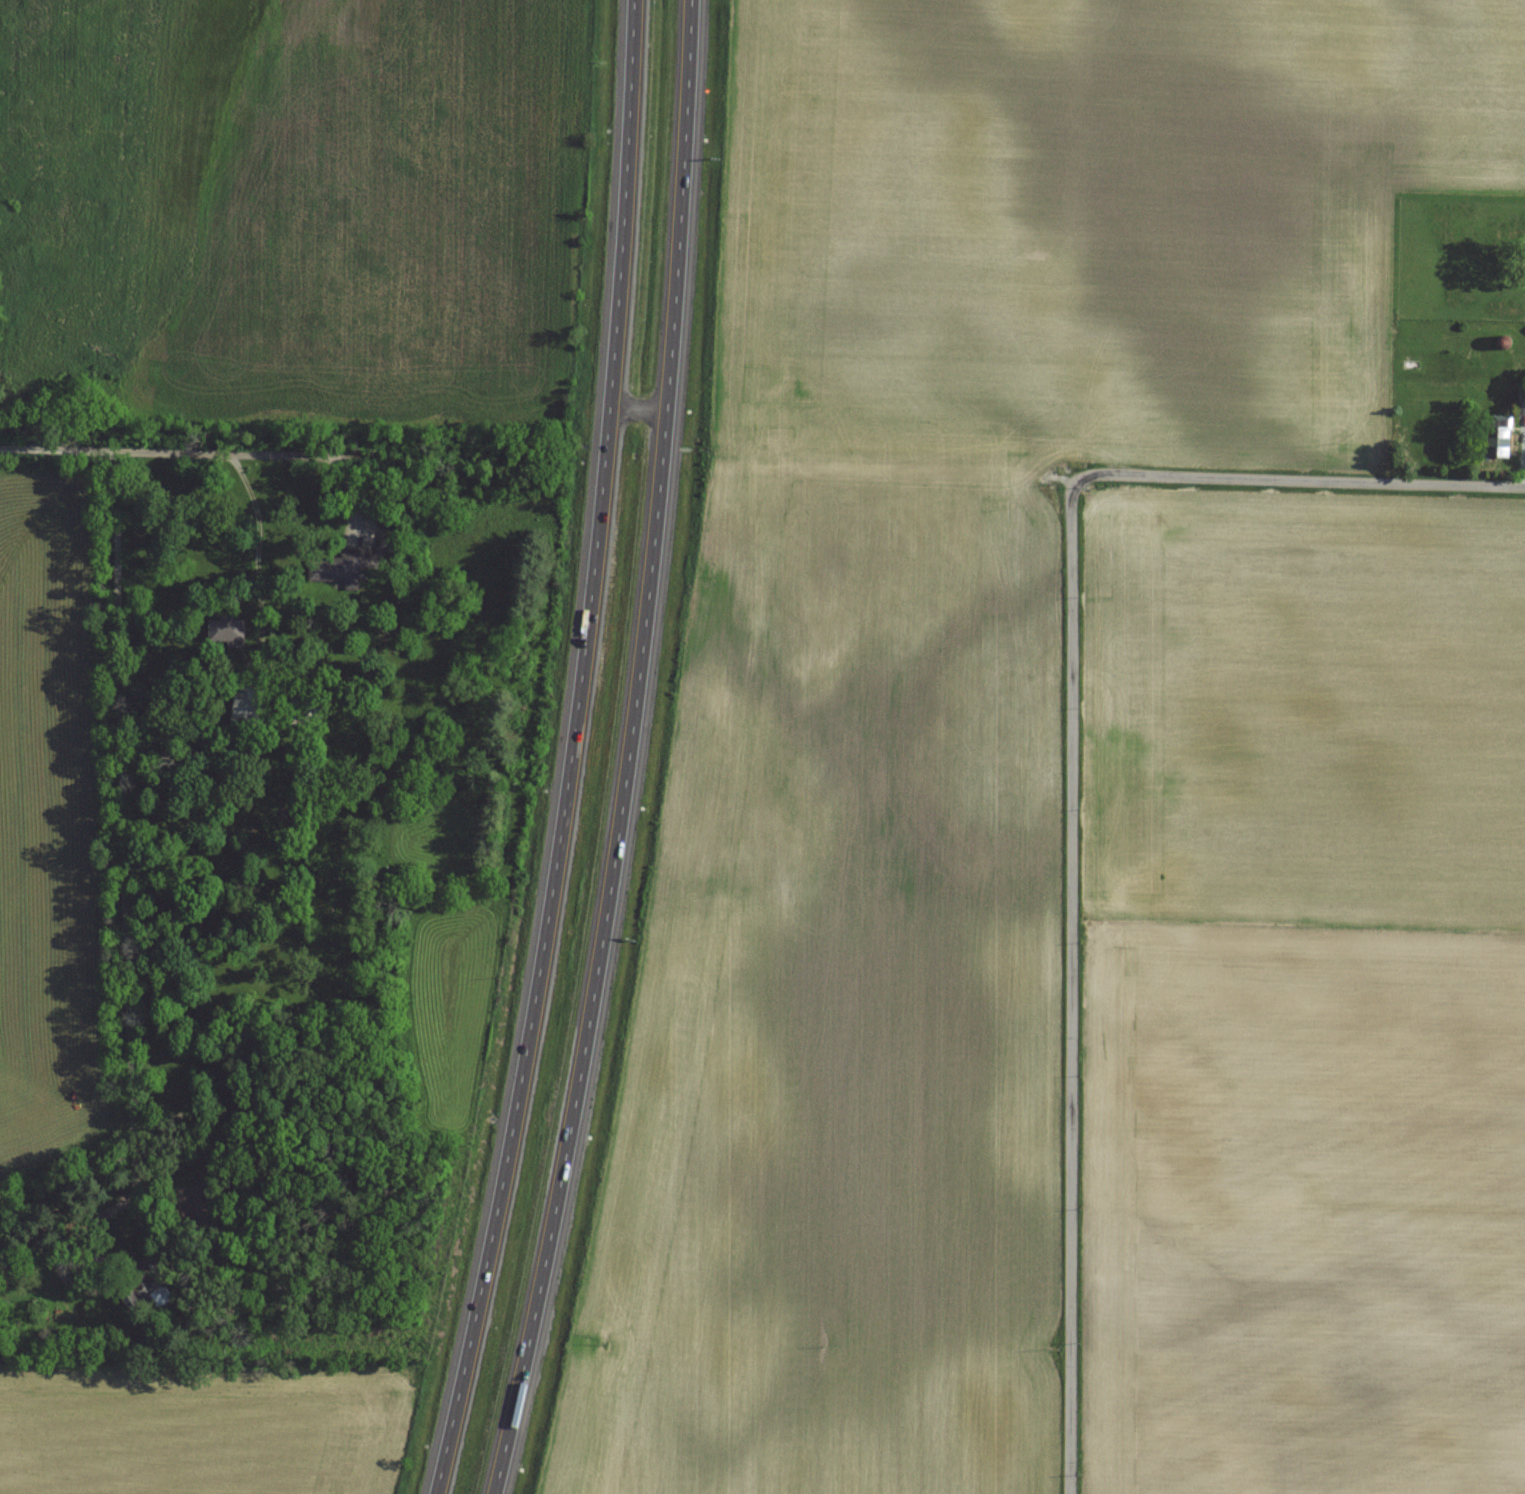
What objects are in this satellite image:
road: (636, 412)
building: (1500, 436)
road: (172, 451)
road: (1299, 481)
building: (389, 540)
road: (256, 557)
building: (339, 568)
building: (228, 629)
building: (247, 704)
building: (304, 711)
road: (568, 752)
road: (631, 752)
road: (119, 818)
road: (1073, 989)
road: (117, 1282)
building: (149, 1294)

